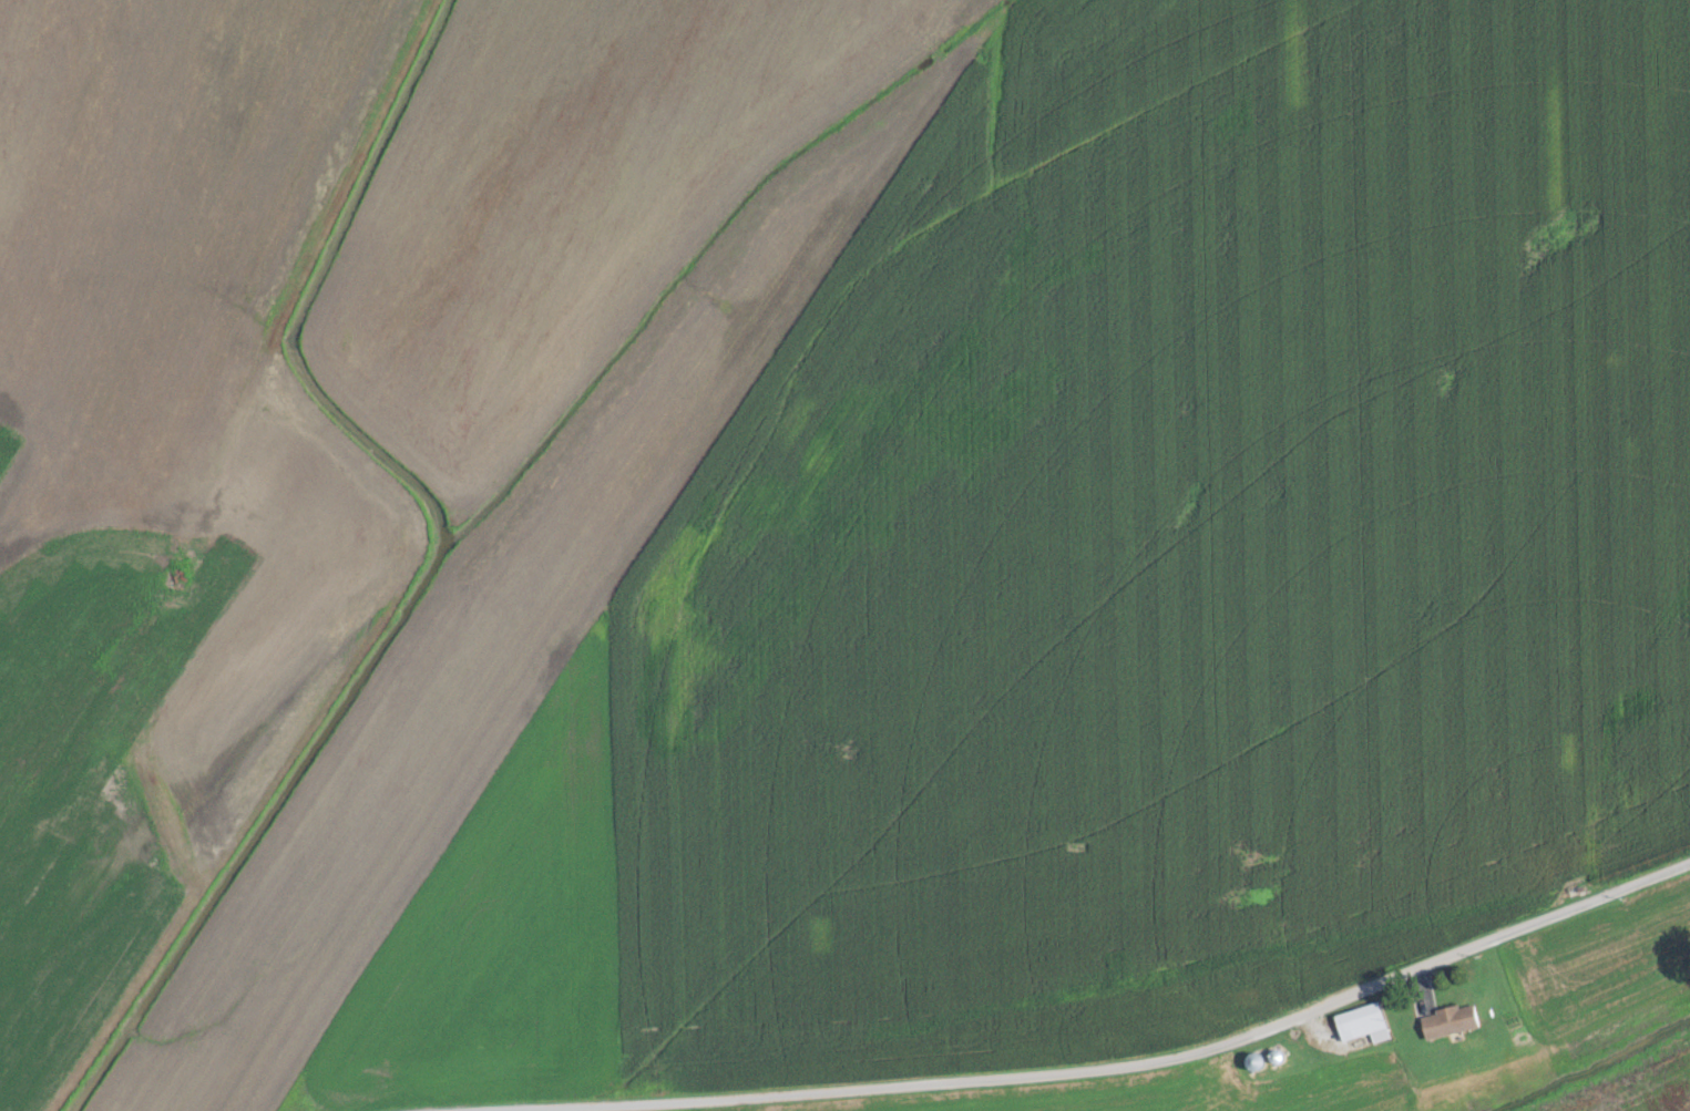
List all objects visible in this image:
building: (1362, 1021)
road: (1082, 1068)

